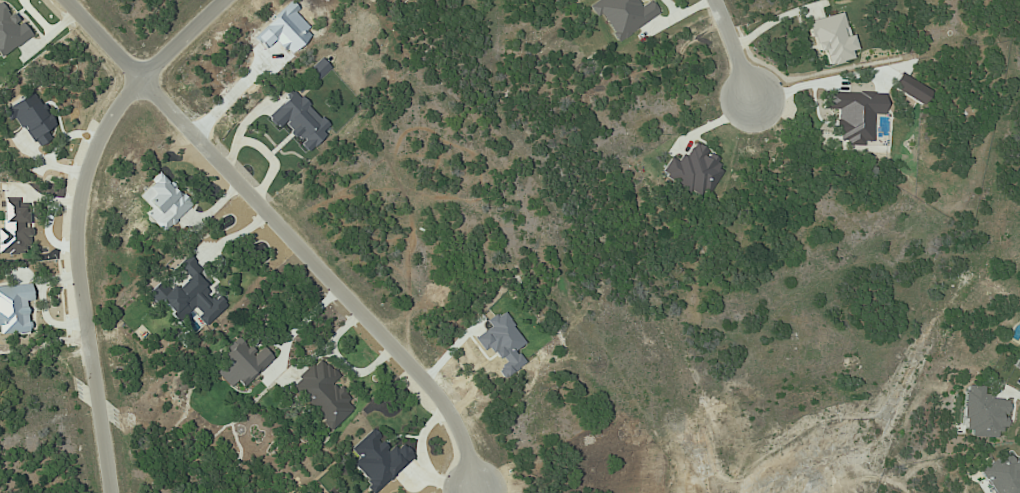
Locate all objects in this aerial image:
building: (621, 15)
road: (773, 20)
building: (10, 32)
building: (830, 39)
road: (734, 49)
building: (317, 69)
road: (801, 87)
road: (233, 97)
road: (251, 113)
building: (298, 121)
road: (264, 148)
building: (692, 171)
building: (162, 203)
road: (78, 221)
road: (288, 235)
building: (187, 266)
building: (190, 300)
road: (297, 327)
building: (1016, 361)
building: (240, 366)
building: (321, 394)
road: (1017, 395)
building: (980, 413)
building: (377, 459)
building: (1001, 475)

